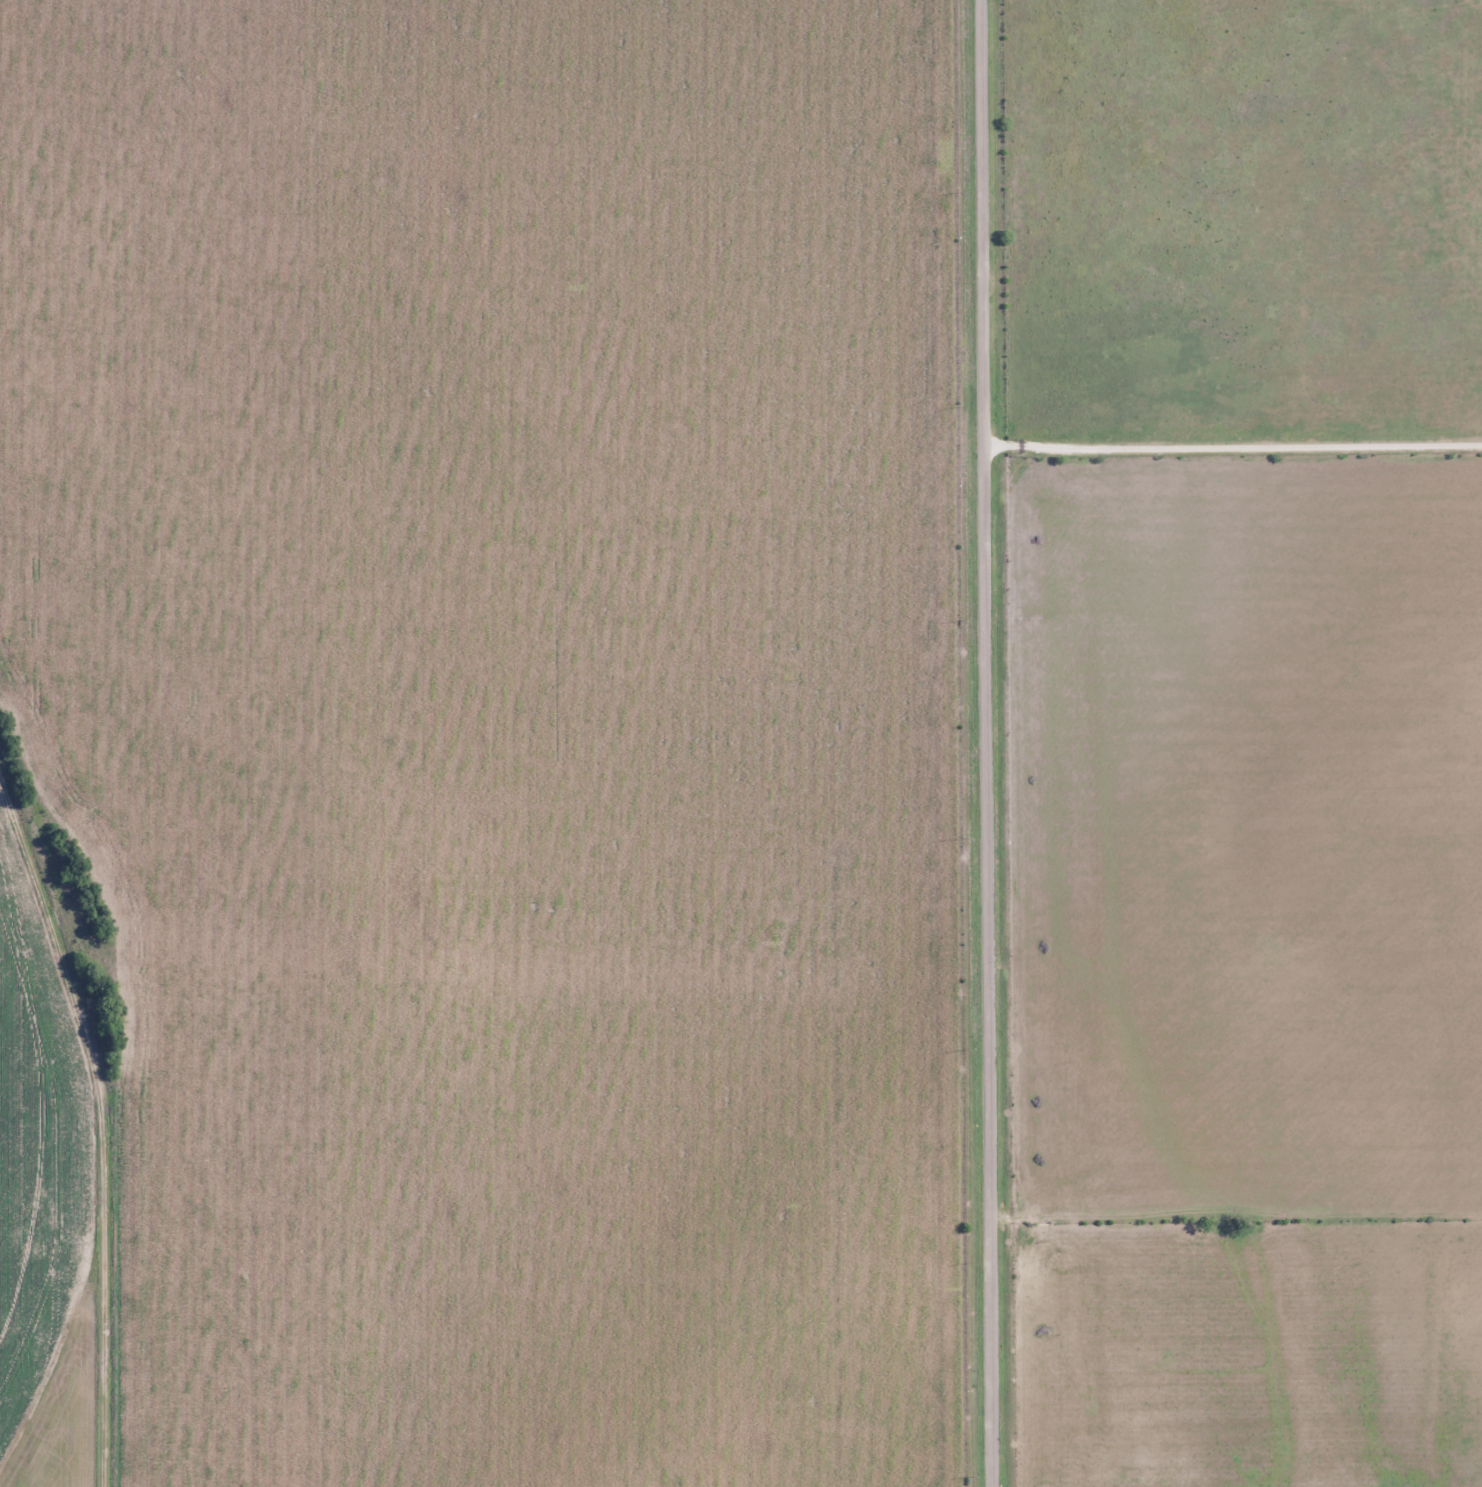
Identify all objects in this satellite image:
road: (1232, 454)
road: (985, 743)
road: (95, 1112)

